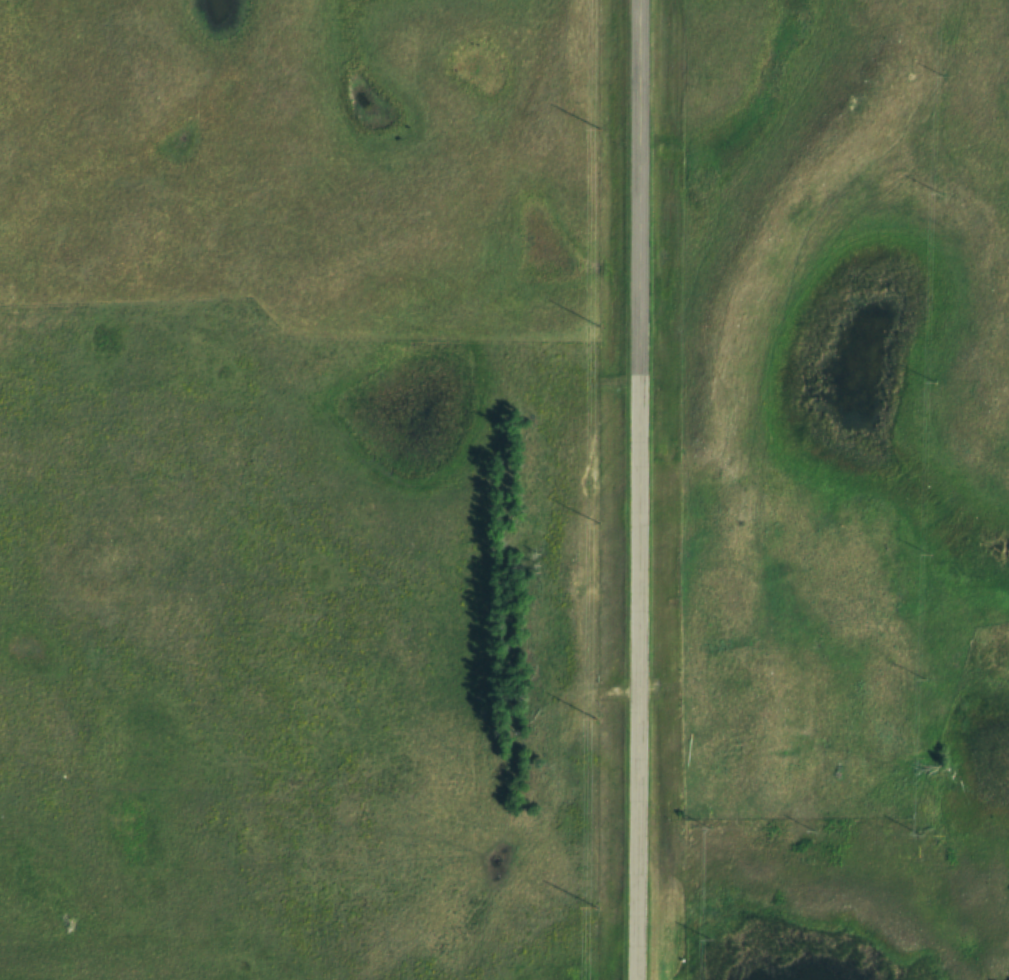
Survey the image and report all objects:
road: (636, 489)

